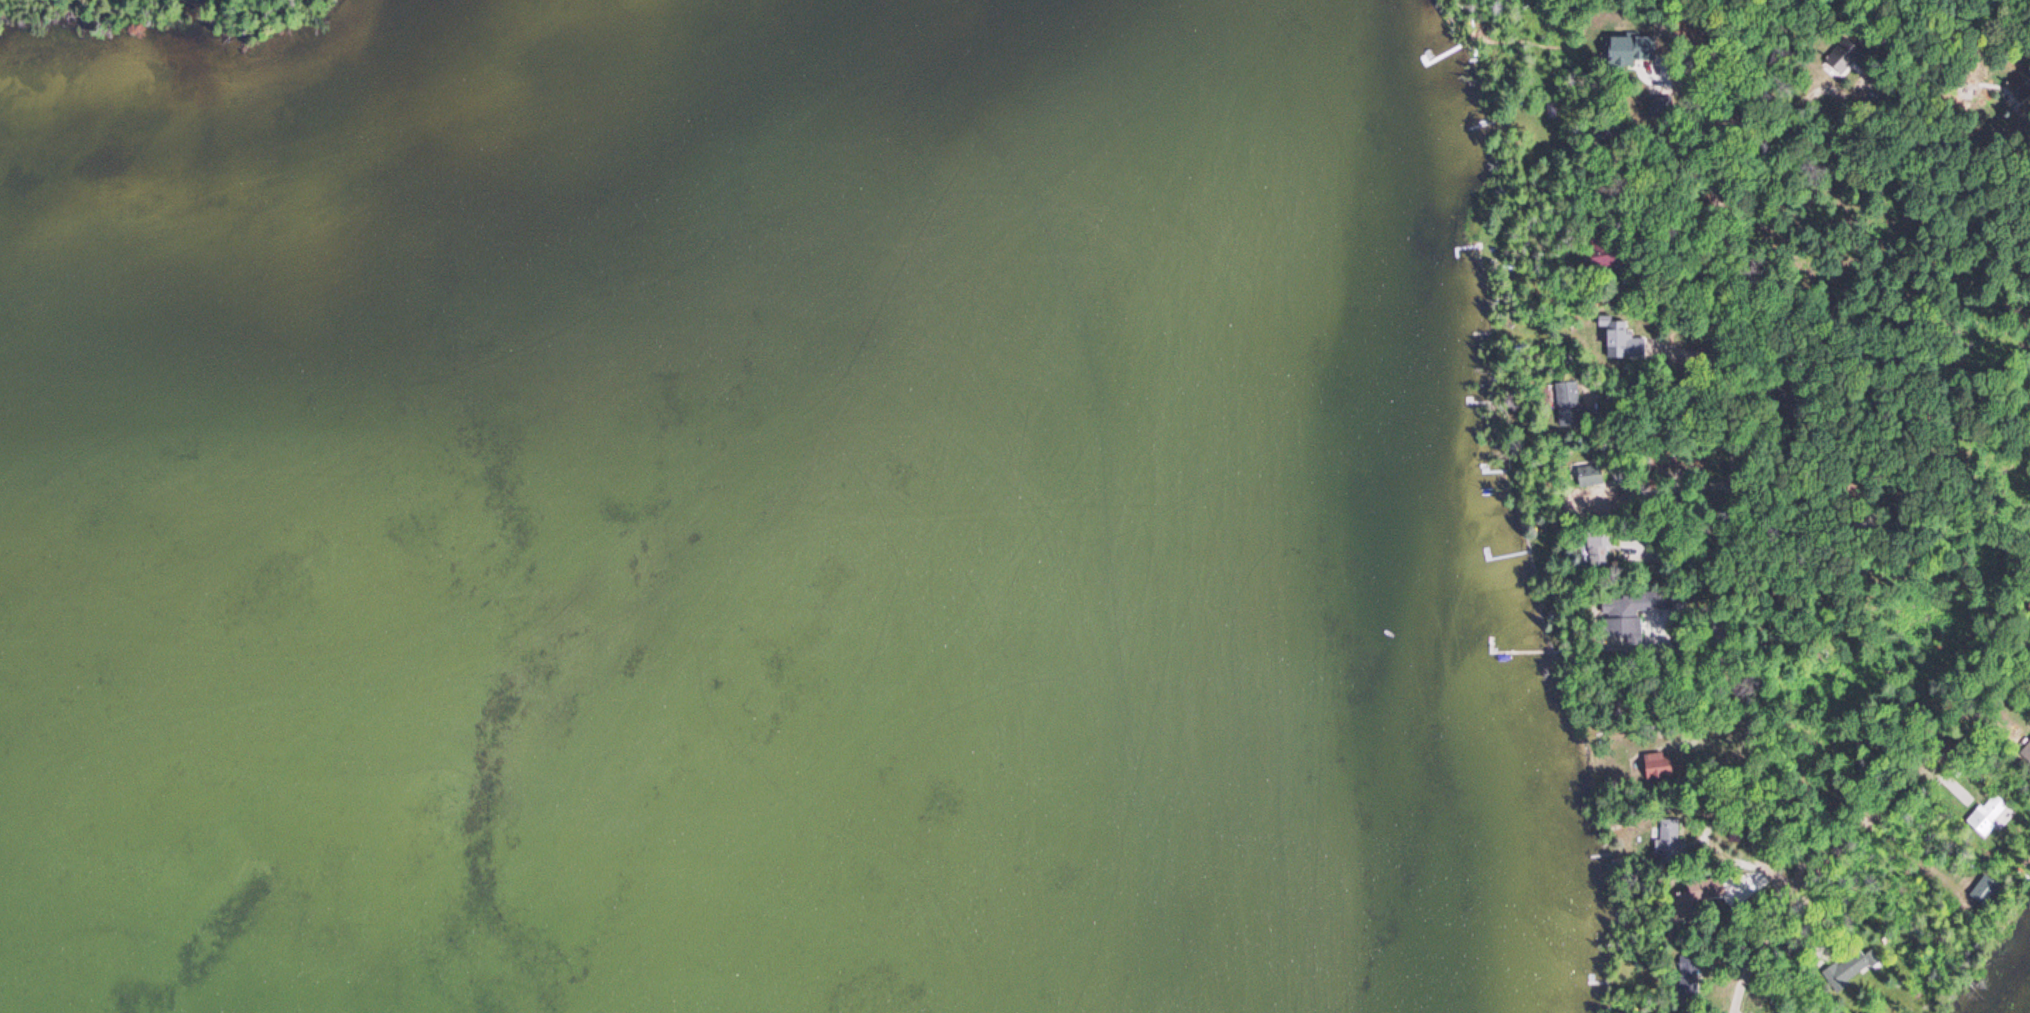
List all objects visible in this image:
road: (1725, 534)
road: (1917, 752)
building: (1987, 816)
road: (1762, 941)

